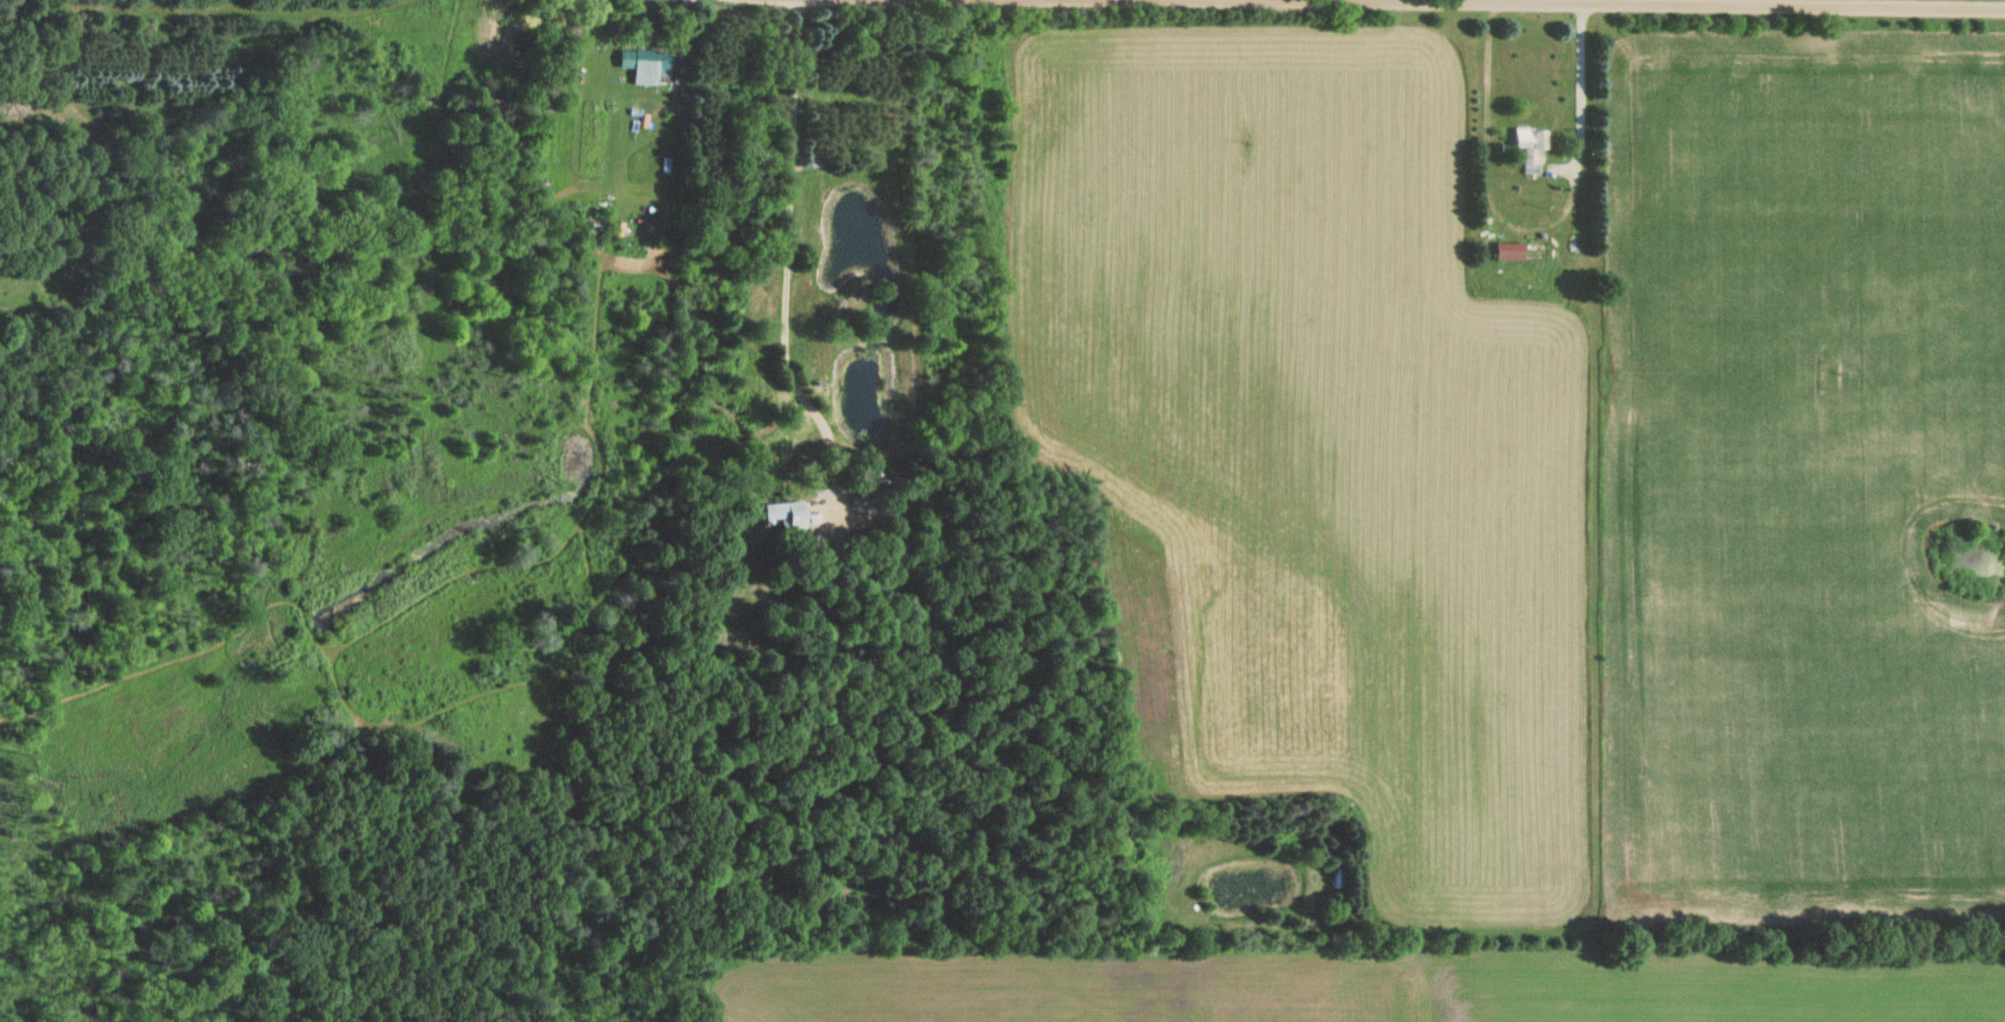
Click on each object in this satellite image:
road: (1708, 3)
building: (641, 64)
road: (1578, 88)
building: (1531, 147)
building: (1511, 251)
road: (784, 255)
building: (869, 502)
building: (793, 515)
building: (1336, 878)

